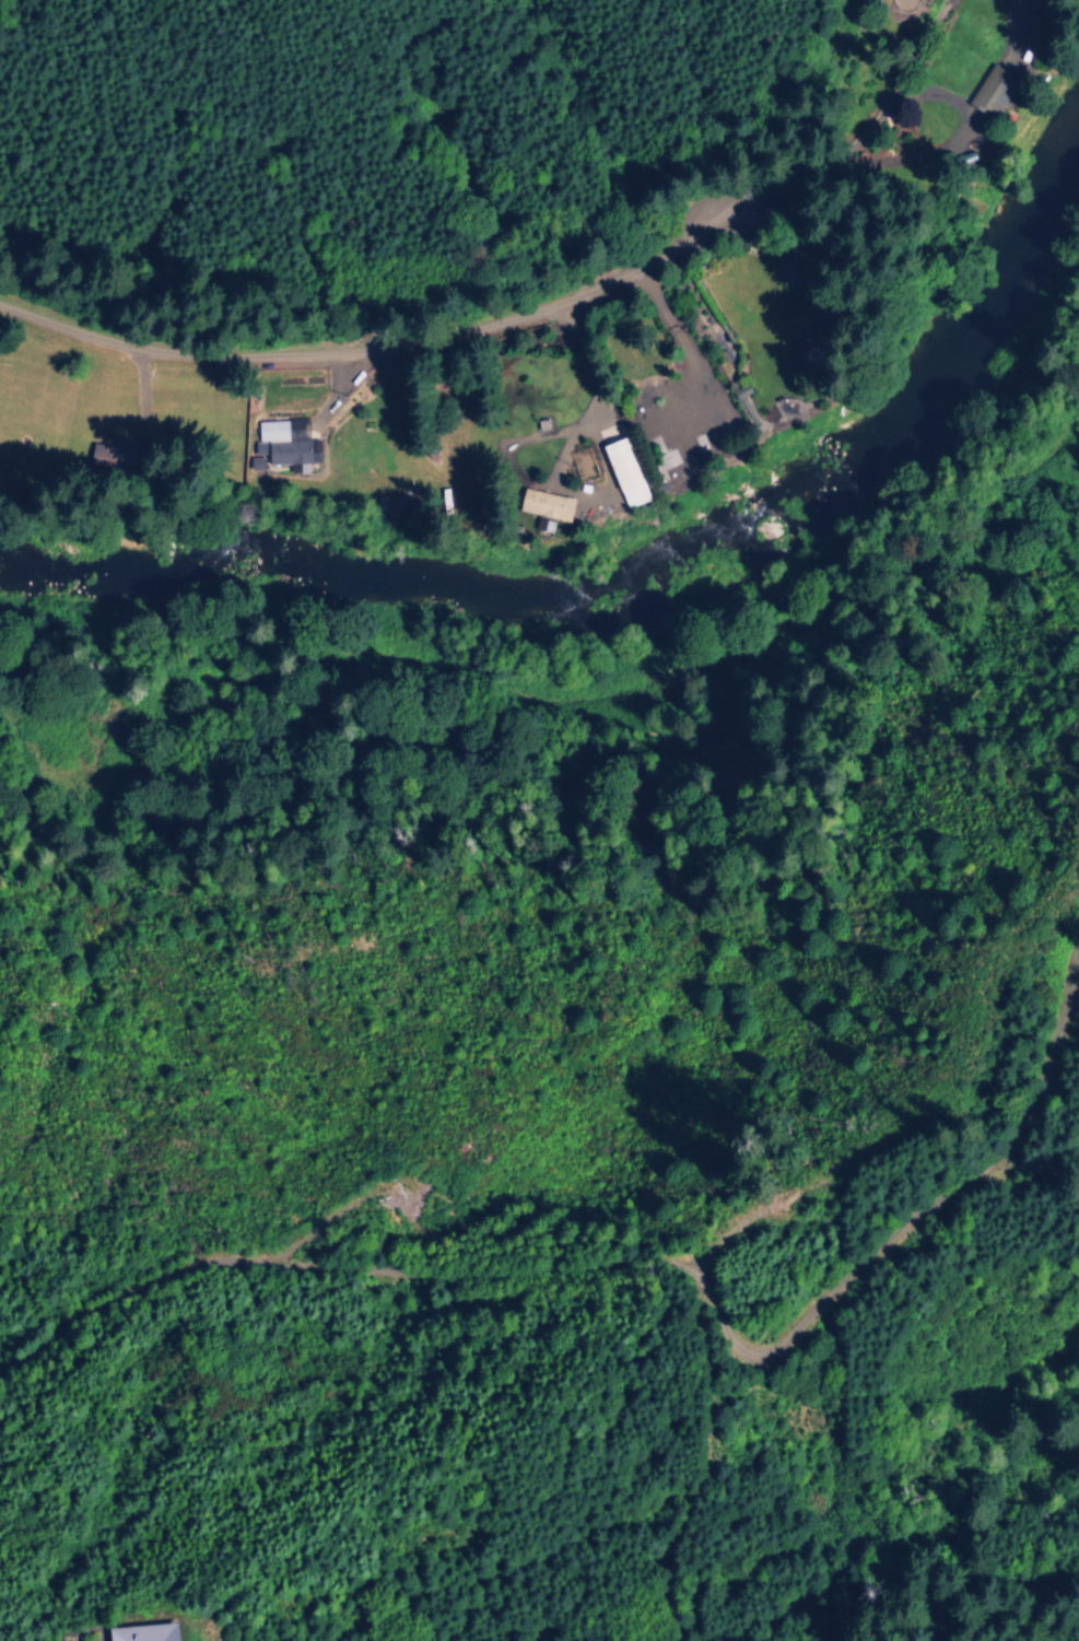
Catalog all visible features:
road: (1011, 28)
road: (903, 63)
building: (988, 91)
road: (941, 96)
road: (453, 337)
road: (689, 348)
road: (338, 394)
road: (140, 401)
road: (582, 418)
building: (284, 441)
building: (104, 457)
building: (255, 462)
building: (622, 472)
building: (542, 504)
river: (633, 582)
road: (666, 1258)
building: (140, 1632)

